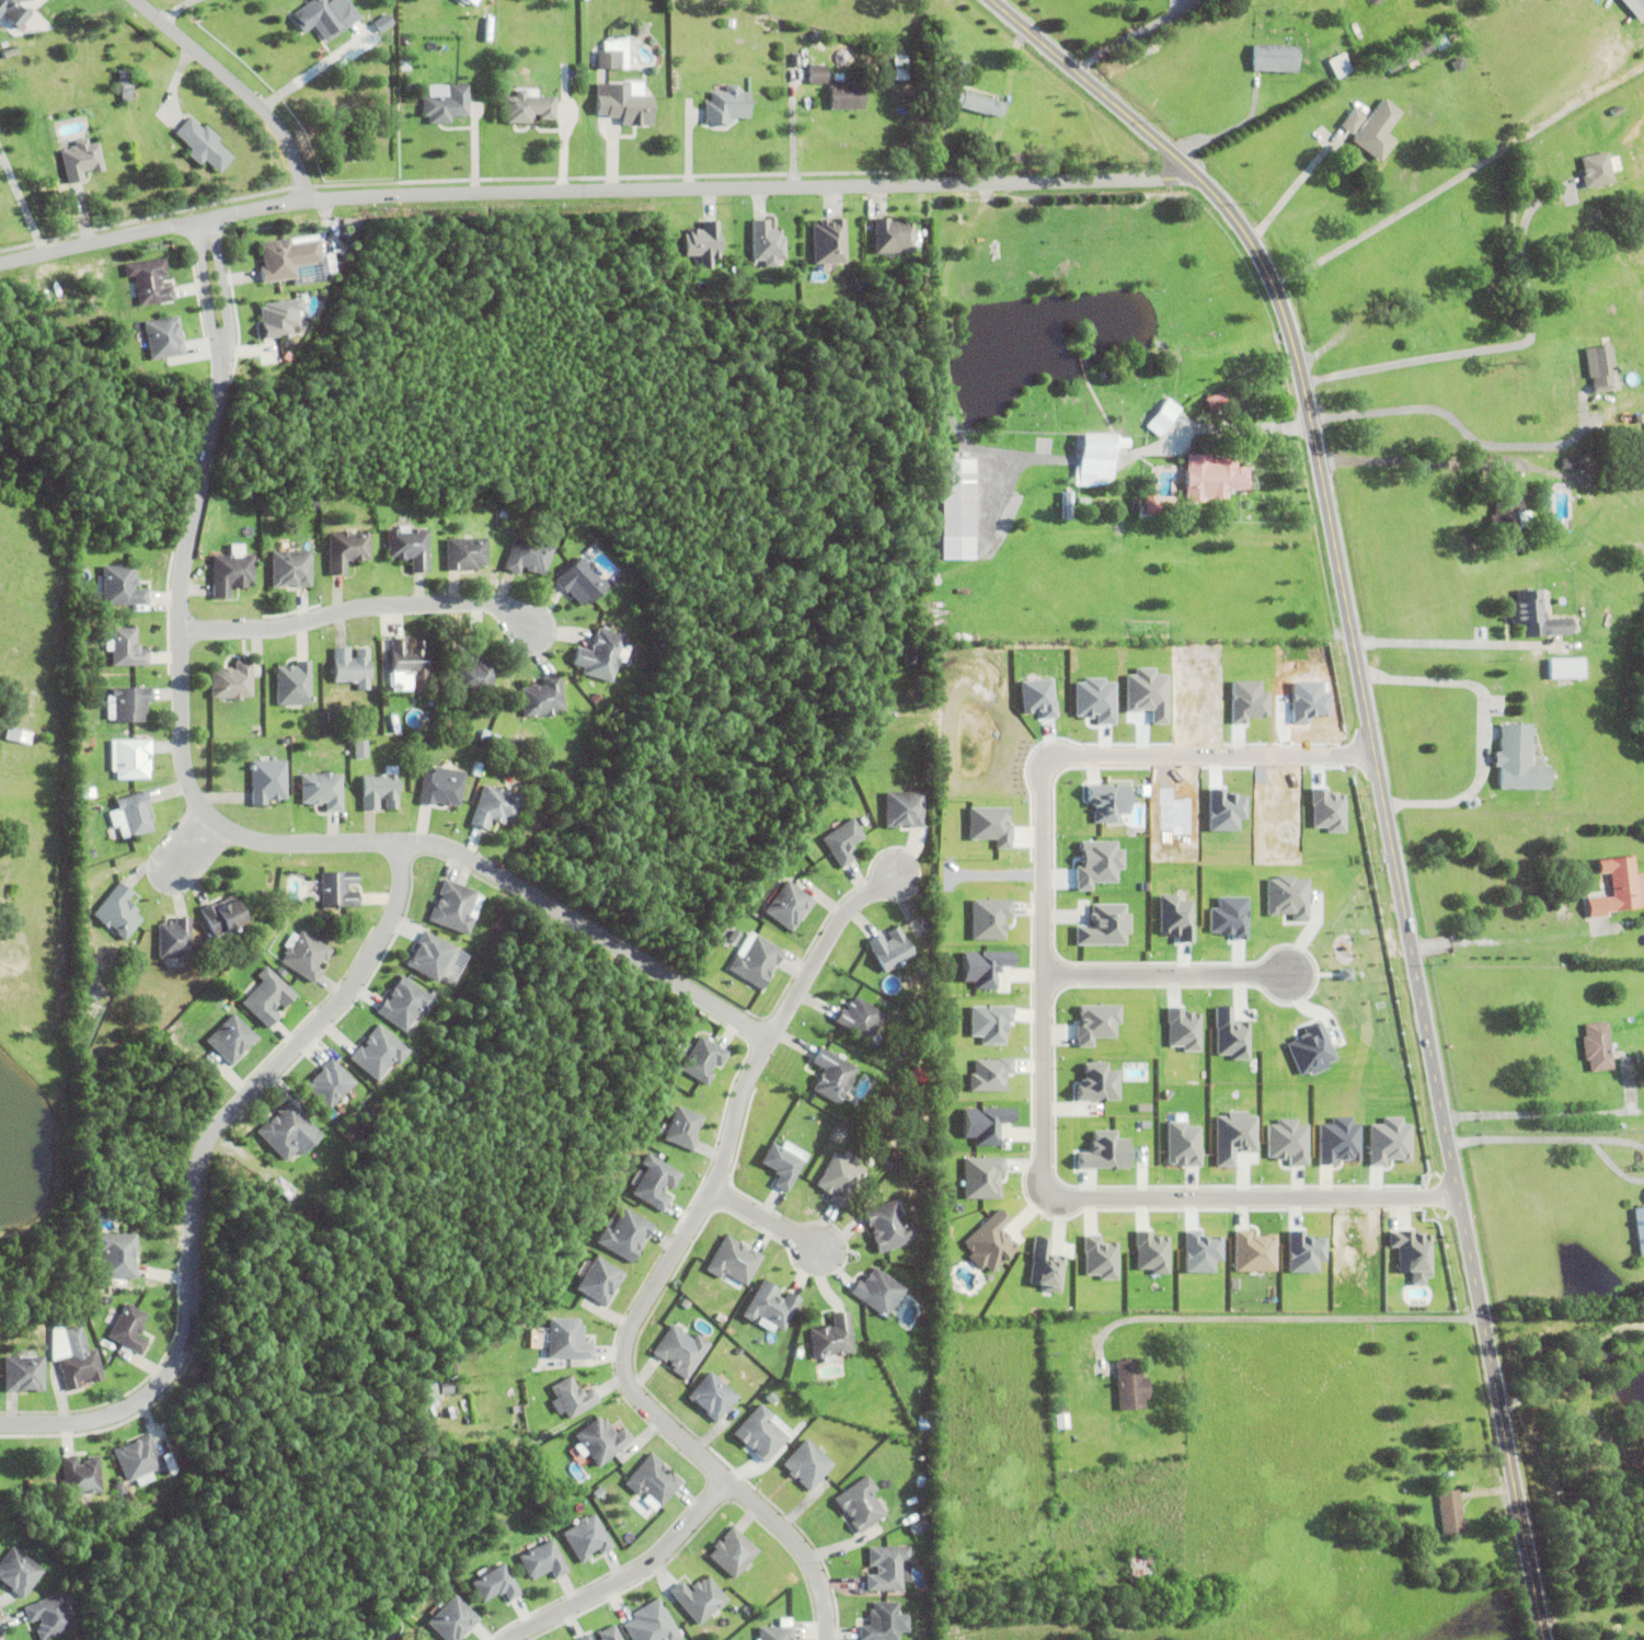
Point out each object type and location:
building: (468, 1)
building: (1635, 8)
building: (13, 12)
building: (325, 18)
building: (382, 23)
building: (729, 23)
building: (637, 28)
building: (815, 36)
building: (1439, 42)
building: (1335, 43)
building: (620, 51)
building: (10, 54)
building: (1407, 57)
building: (1276, 59)
building: (795, 61)
building: (904, 61)
building: (611, 62)
building: (1458, 65)
building: (1341, 66)
building: (904, 69)
building: (957, 69)
building: (817, 74)
building: (904, 76)
road: (240, 88)
building: (125, 91)
building: (844, 94)
building: (978, 104)
building: (447, 105)
building: (623, 105)
building: (727, 106)
building: (528, 108)
building: (1353, 123)
building: (1378, 131)
building: (203, 146)
building: (81, 161)
building: (1594, 169)
road: (1459, 174)
road: (597, 188)
road: (1290, 188)
building: (1525, 191)
road: (22, 206)
building: (1360, 214)
building: (893, 238)
building: (703, 241)
building: (665, 242)
building: (829, 242)
building: (767, 244)
building: (276, 262)
building: (150, 283)
building: (280, 319)
building: (163, 339)
road: (1506, 345)
building: (1599, 368)
building: (1211, 400)
building: (1164, 418)
building: (1639, 420)
road: (1463, 431)
building: (1097, 460)
road: (1415, 462)
building: (1544, 462)
building: (1568, 465)
building: (1212, 479)
building: (1635, 490)
building: (313, 503)
building: (1073, 506)
building: (1159, 506)
building: (1134, 508)
building: (956, 511)
building: (502, 515)
building: (1508, 521)
building: (409, 548)
building: (590, 550)
building: (347, 552)
building: (467, 555)
building: (527, 557)
building: (291, 571)
building: (231, 575)
building: (580, 584)
building: (122, 588)
building: (641, 597)
road: (357, 610)
building: (1533, 618)
road: (1453, 649)
building: (126, 650)
building: (602, 654)
building: (911, 656)
building: (407, 665)
building: (352, 669)
building: (257, 670)
building: (1564, 670)
building: (95, 672)
building: (473, 678)
building: (232, 684)
building: (294, 686)
building: (432, 692)
building: (542, 699)
building: (128, 707)
road: (180, 713)
building: (87, 718)
building: (335, 718)
building: (501, 727)
road: (1481, 732)
building: (484, 736)
building: (19, 737)
building: (494, 739)
building: (83, 743)
building: (360, 752)
building: (472, 753)
building: (131, 761)
building: (1518, 761)
road: (1377, 762)
building: (469, 767)
building: (268, 783)
building: (441, 789)
building: (380, 791)
building: (322, 792)
building: (494, 810)
building: (904, 811)
building: (134, 816)
building: (842, 844)
road: (189, 849)
building: (90, 857)
building: (338, 891)
building: (1619, 891)
building: (789, 908)
building: (452, 910)
building: (118, 915)
building: (1226, 916)
building: (222, 922)
building: (924, 924)
building: (734, 938)
building: (1643, 938)
building: (175, 941)
building: (263, 941)
building: (890, 952)
building: (304, 957)
building: (252, 959)
building: (429, 960)
building: (227, 962)
building: (756, 964)
road: (668, 980)
road: (1163, 980)
building: (267, 1000)
building: (403, 1007)
building: (860, 1021)
road: (1043, 1028)
building: (231, 1042)
building: (1598, 1048)
building: (1308, 1050)
building: (378, 1056)
building: (703, 1063)
building: (832, 1078)
building: (1094, 1082)
building: (329, 1087)
road: (1559, 1112)
building: (980, 1123)
building: (682, 1131)
building: (289, 1136)
road: (1518, 1137)
road: (1616, 1138)
building: (1335, 1139)
building: (1101, 1151)
road: (1611, 1166)
road: (196, 1169)
building: (782, 1169)
building: (838, 1182)
building: (654, 1185)
building: (285, 1194)
road: (766, 1223)
building: (887, 1229)
building: (1640, 1231)
building: (625, 1238)
building: (985, 1241)
building: (1251, 1251)
building: (1148, 1252)
building: (116, 1258)
building: (1095, 1258)
building: (734, 1263)
road: (666, 1268)
building: (600, 1285)
building: (103, 1288)
building: (877, 1295)
building: (771, 1309)
road: (1273, 1316)
building: (722, 1319)
building: (128, 1331)
building: (832, 1340)
building: (566, 1343)
building: (681, 1349)
building: (797, 1354)
building: (77, 1364)
building: (23, 1377)
building: (1130, 1389)
building: (429, 1391)
building: (446, 1391)
building: (712, 1395)
building: (572, 1400)
building: (923, 1427)
building: (760, 1432)
building: (601, 1444)
building: (436, 1456)
building: (137, 1457)
building: (165, 1460)
building: (806, 1463)
building: (80, 1473)
building: (653, 1483)
building: (118, 1488)
building: (860, 1502)
building: (1451, 1515)
building: (1390, 1522)
building: (918, 1526)
building: (586, 1536)
building: (733, 1551)
building: (541, 1559)
building: (887, 1567)
building: (1139, 1570)
building: (18, 1571)
road: (630, 1576)
building: (494, 1582)
building: (700, 1597)
building: (48, 1614)
building: (452, 1618)
building: (881, 1620)
building: (652, 1622)
building: (608, 1632)
building: (775, 1632)
building: (583, 1638)
building: (412, 1639)
building: (417, 1639)

